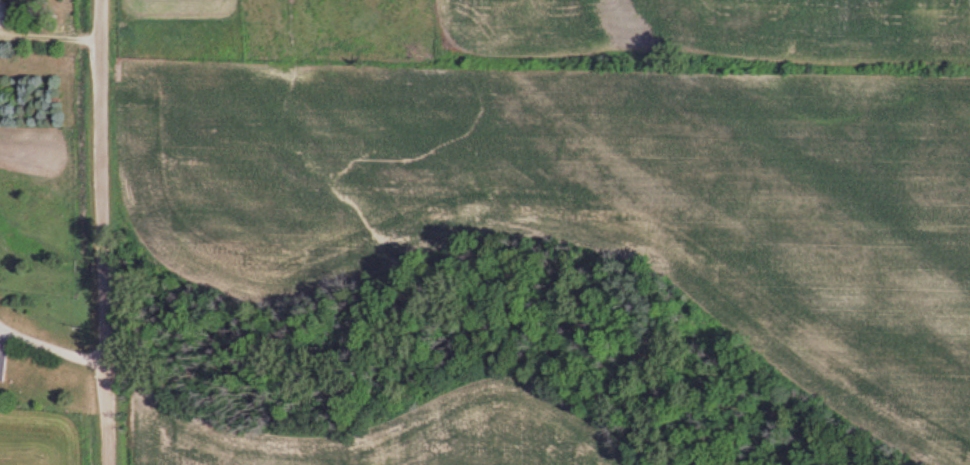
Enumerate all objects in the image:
building: (1, 3)
road: (100, 232)
building: (5, 361)

